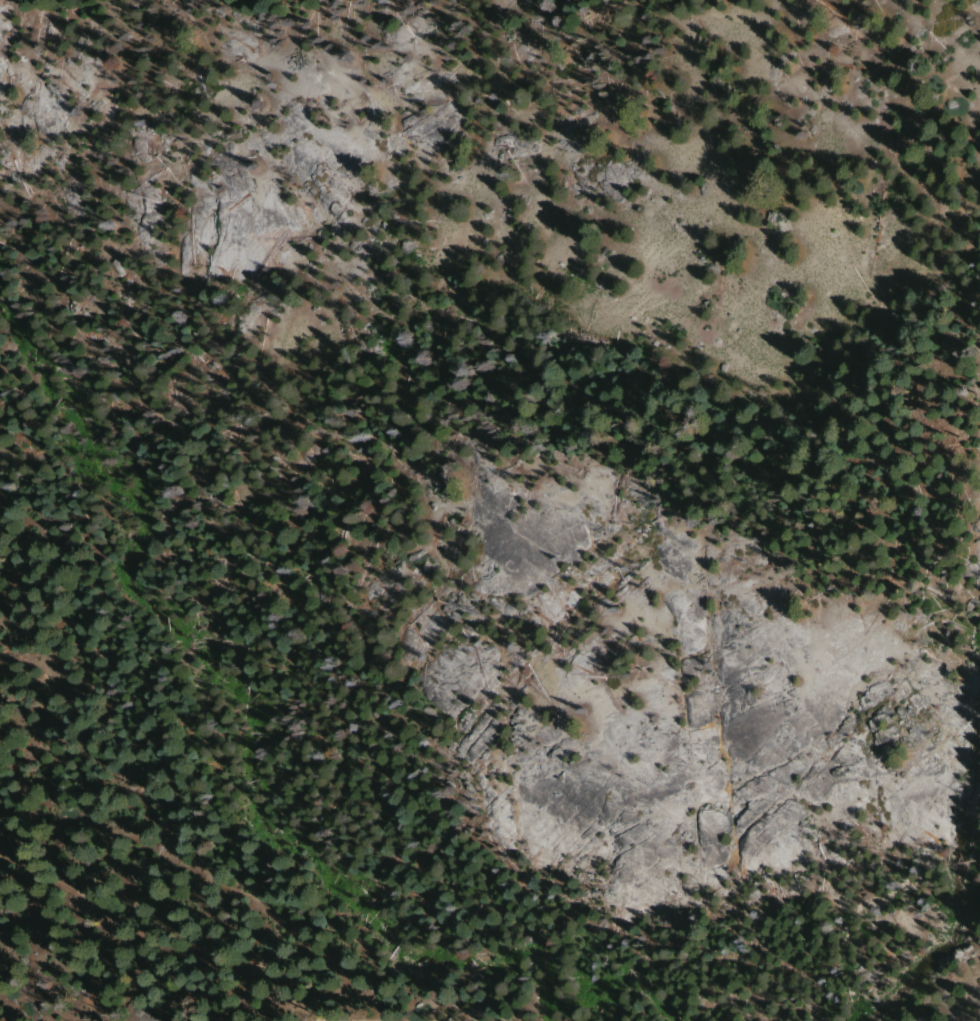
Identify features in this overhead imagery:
road: (19, 995)

